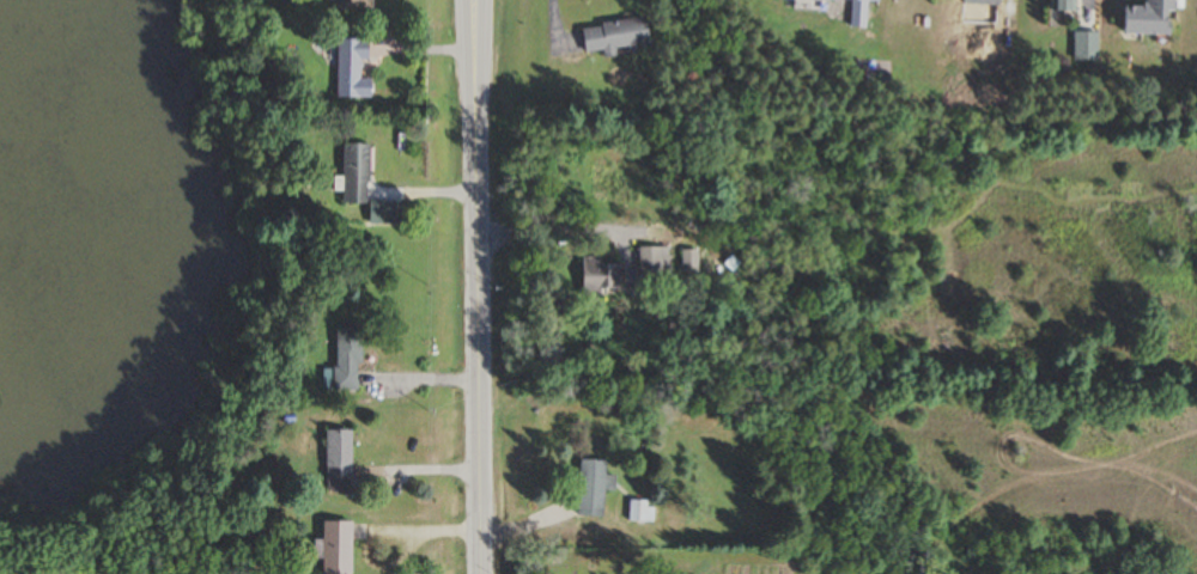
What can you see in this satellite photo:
building: (809, 0)
building: (978, 2)
building: (352, 5)
building: (1061, 5)
building: (858, 13)
building: (1148, 18)
building: (612, 36)
building: (1083, 47)
building: (347, 68)
building: (352, 173)
building: (687, 262)
building: (596, 276)
road: (476, 287)
building: (342, 362)
building: (336, 462)
building: (591, 488)
building: (642, 512)
building: (334, 548)

